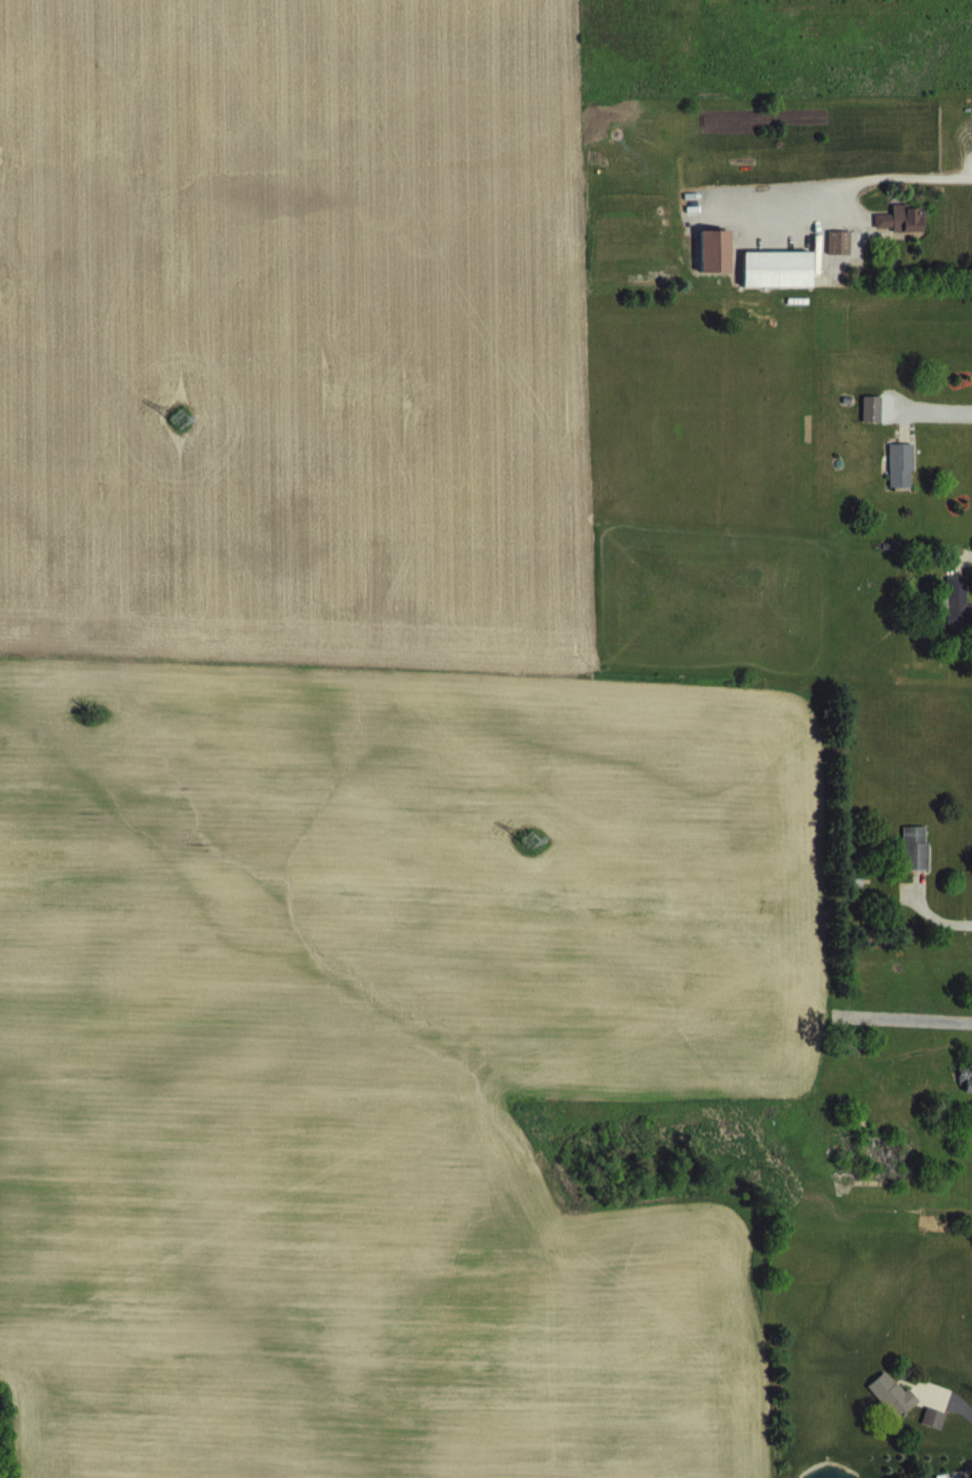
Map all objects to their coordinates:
road: (874, 175)
building: (903, 235)
building: (841, 258)
building: (717, 267)
building: (779, 285)
road: (936, 411)
building: (874, 425)
building: (903, 481)
building: (958, 616)
power tower: (529, 840)
building: (917, 864)
road: (939, 917)
building: (967, 1092)
road: (949, 1392)
building: (896, 1411)
building: (937, 1433)
road: (966, 1471)

